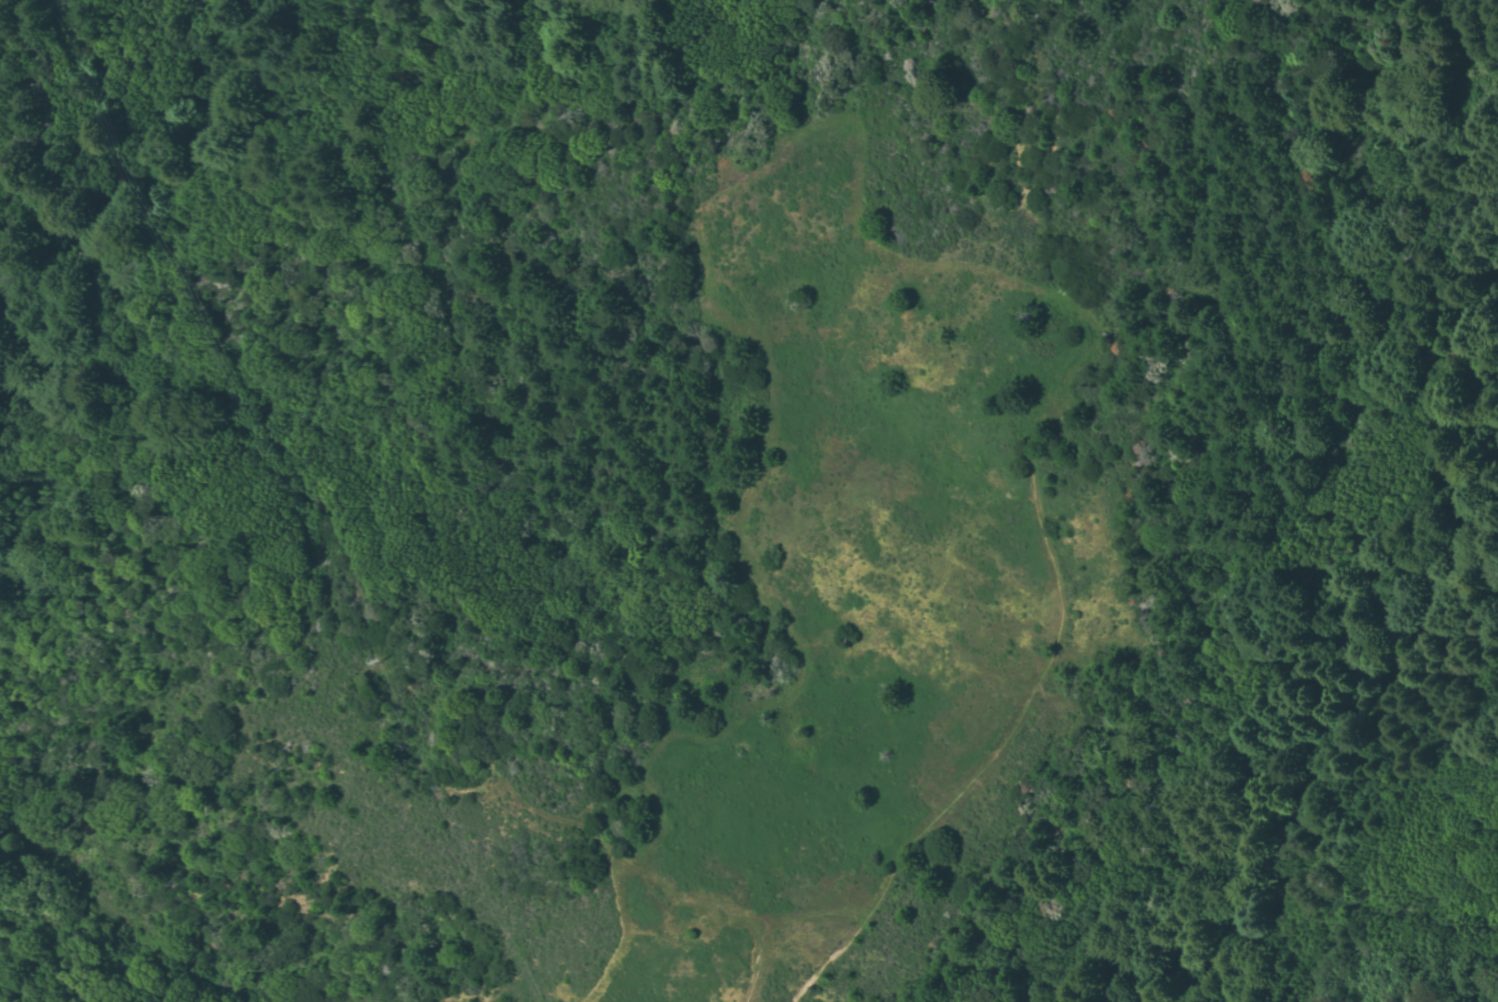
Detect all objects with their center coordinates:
road: (1039, 506)

